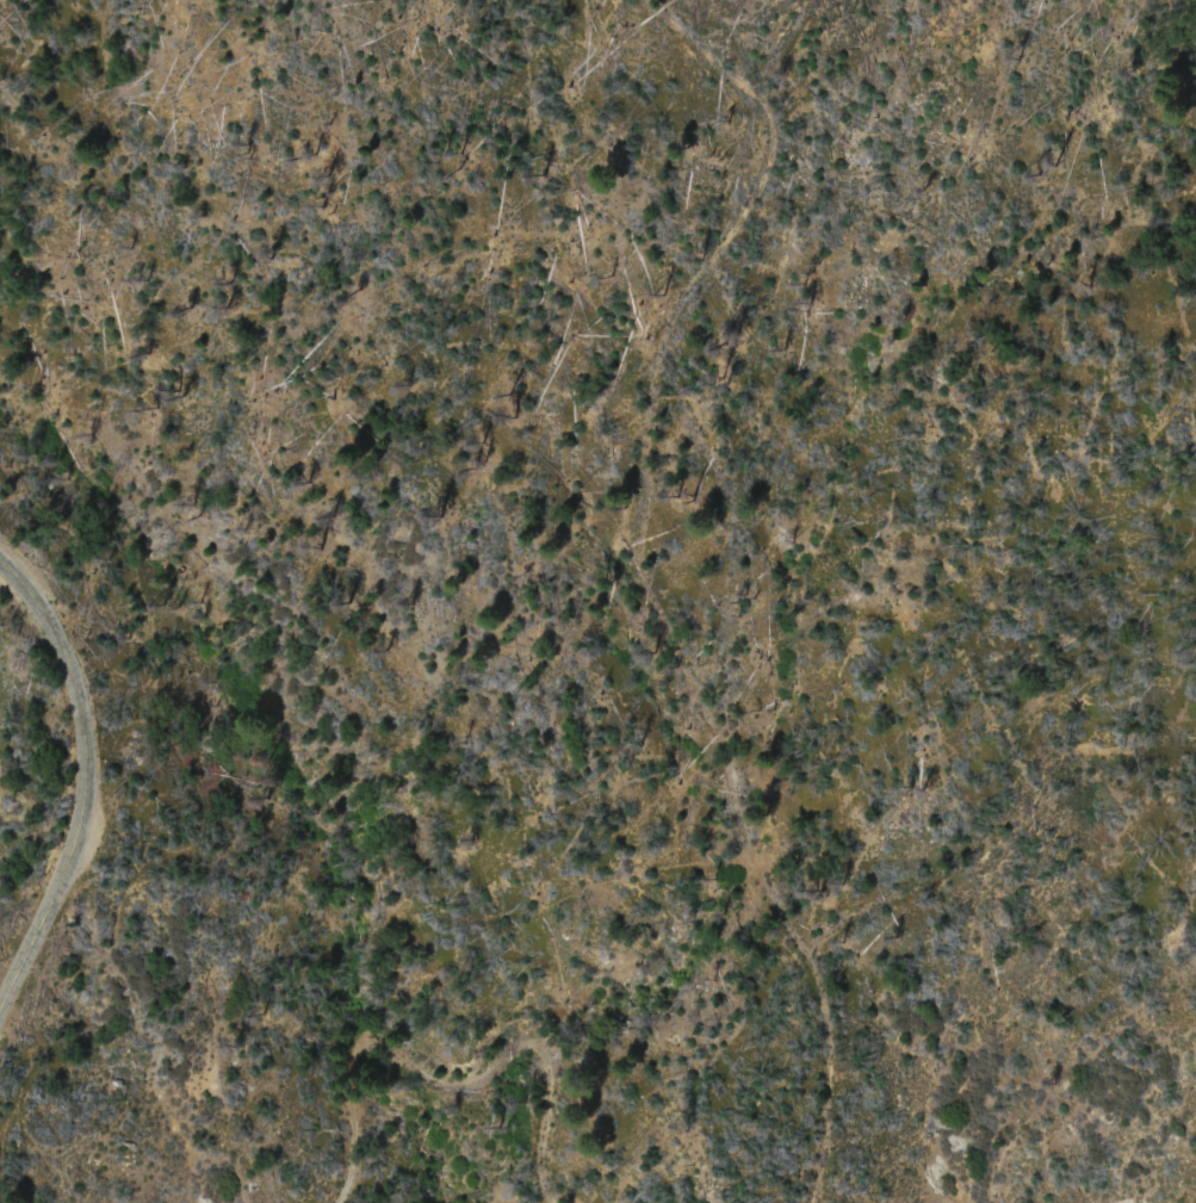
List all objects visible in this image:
road: (88, 783)
road: (478, 1059)

